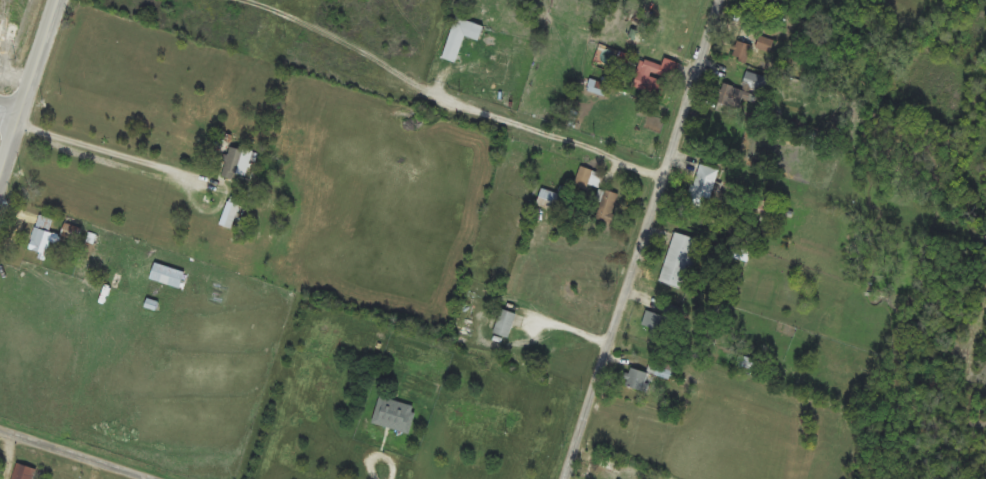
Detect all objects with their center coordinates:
building: (461, 38)
building: (765, 44)
building: (741, 52)
building: (654, 76)
building: (755, 82)
road: (401, 88)
road: (30, 90)
building: (735, 97)
road: (10, 114)
road: (111, 154)
building: (236, 163)
building: (584, 178)
building: (703, 186)
building: (548, 200)
building: (607, 206)
building: (230, 215)
building: (73, 233)
road: (647, 239)
building: (41, 242)
building: (679, 260)
building: (168, 275)
building: (505, 324)
building: (655, 324)
building: (636, 380)
building: (394, 415)
building: (807, 430)
road: (72, 455)
road: (377, 455)
building: (24, 472)

